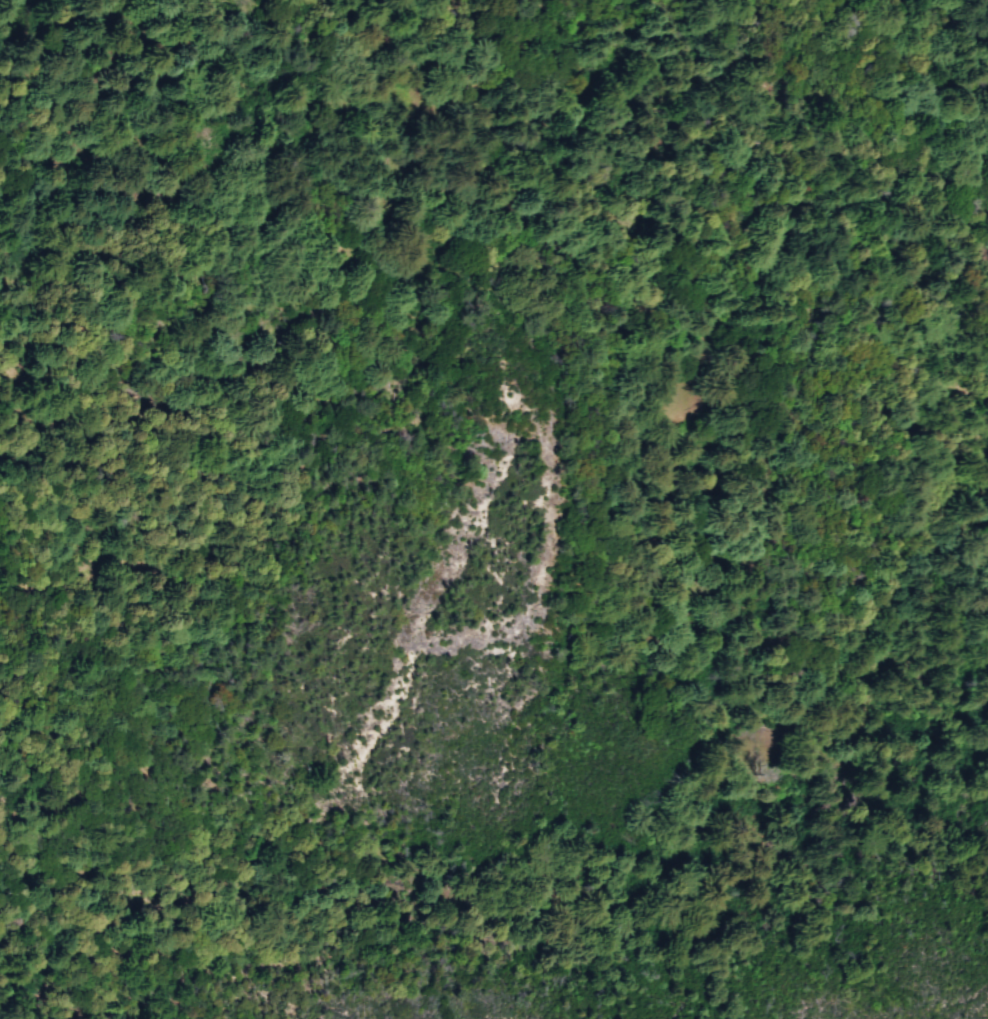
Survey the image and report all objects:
road: (209, 970)

